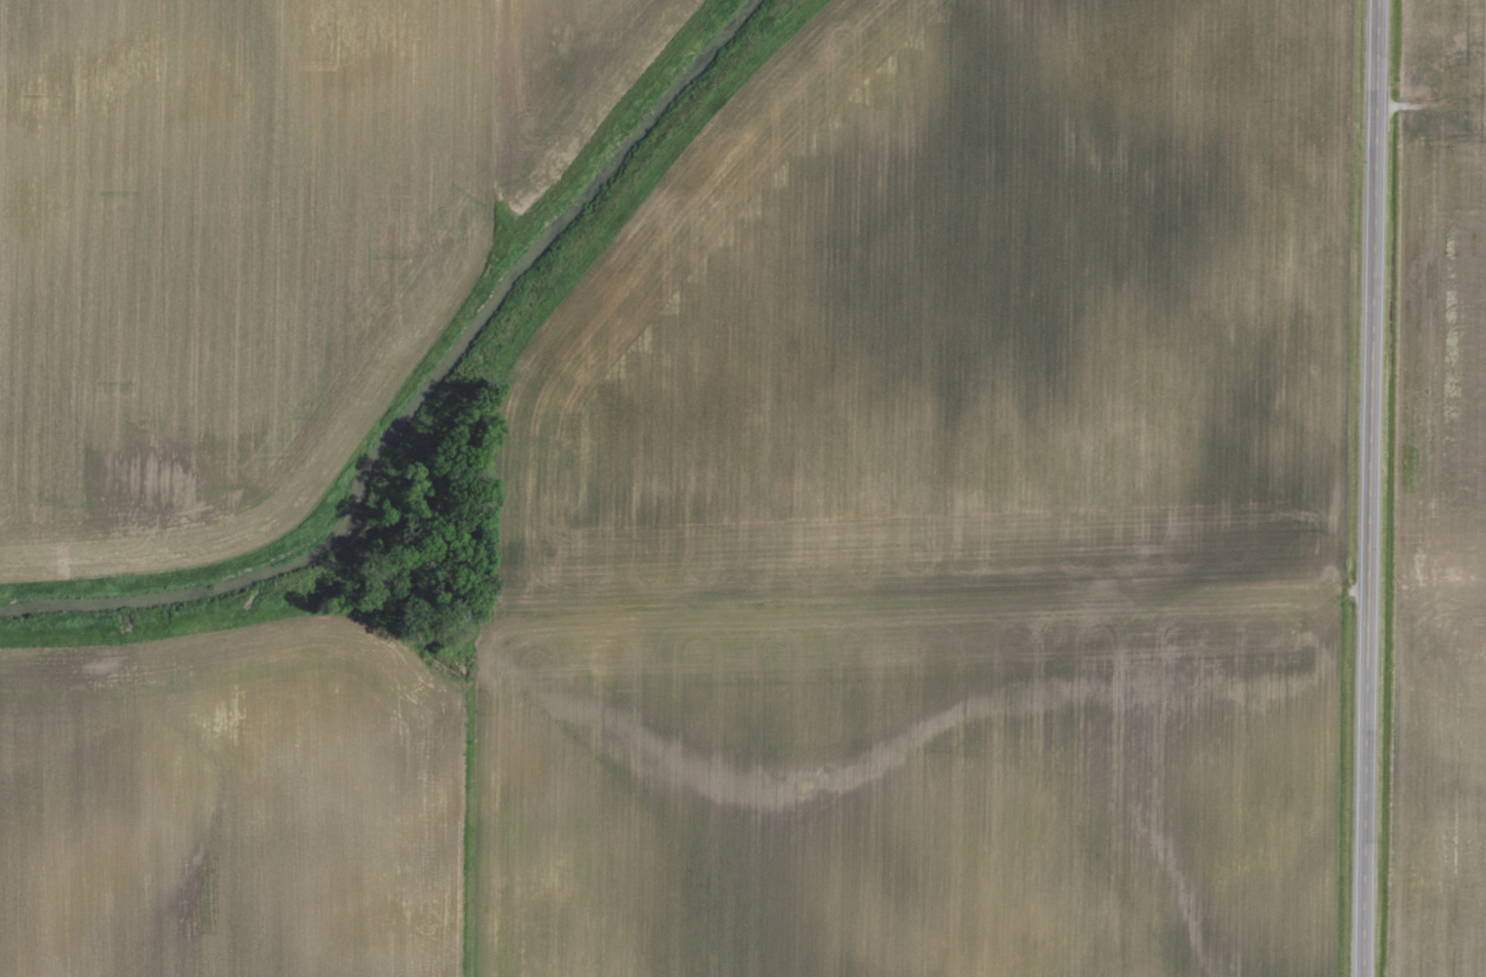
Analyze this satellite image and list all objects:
road: (1379, 488)

